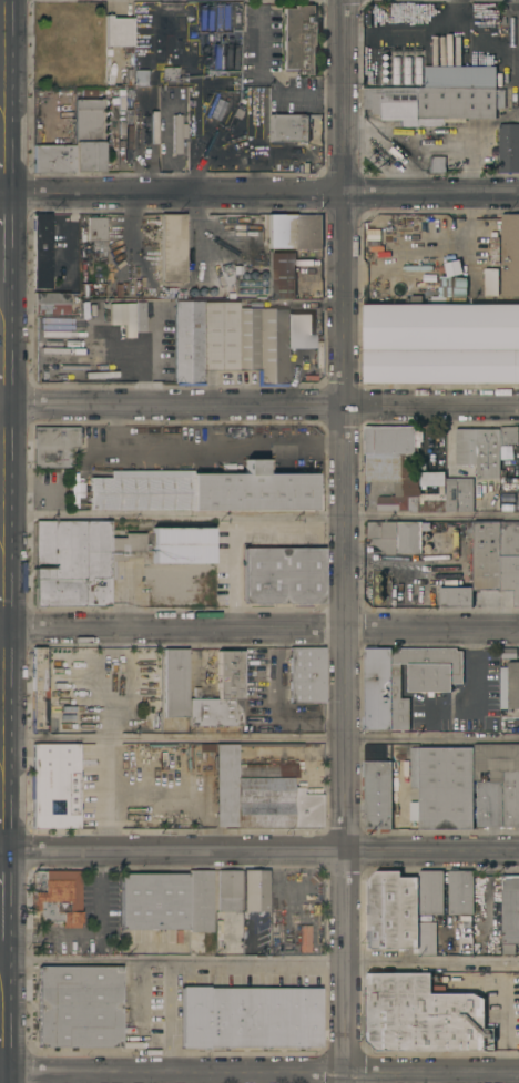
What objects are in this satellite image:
building: (118, 31)
building: (298, 38)
building: (63, 42)
road: (1, 52)
building: (396, 70)
building: (407, 70)
building: (419, 70)
building: (169, 74)
building: (459, 76)
road: (267, 79)
building: (139, 80)
building: (500, 99)
building: (430, 104)
building: (287, 129)
building: (177, 134)
building: (86, 136)
building: (508, 147)
road: (1, 150)
building: (52, 159)
building: (437, 164)
road: (0, 194)
road: (259, 194)
building: (420, 223)
building: (295, 231)
building: (95, 234)
road: (472, 242)
building: (172, 248)
building: (493, 251)
road: (1, 254)
building: (42, 255)
building: (510, 255)
building: (64, 260)
road: (383, 272)
building: (281, 276)
building: (491, 282)
building: (449, 286)
building: (53, 304)
building: (299, 330)
building: (204, 339)
building: (441, 343)
building: (262, 344)
road: (1, 359)
building: (50, 367)
road: (259, 406)
road: (0, 433)
building: (508, 435)
road: (207, 445)
building: (52, 446)
building: (479, 450)
building: (393, 462)
building: (431, 478)
building: (203, 490)
building: (459, 494)
building: (431, 502)
road: (259, 517)
building: (396, 535)
road: (345, 541)
building: (180, 545)
building: (486, 555)
building: (510, 558)
building: (80, 562)
building: (283, 575)
building: (455, 595)
road: (258, 629)
building: (508, 653)
building: (305, 675)
building: (175, 683)
building: (513, 685)
building: (429, 686)
building: (39, 692)
building: (220, 695)
building: (80, 699)
building: (307, 711)
road: (259, 738)
building: (268, 745)
road: (101, 766)
building: (414, 767)
building: (488, 784)
building: (510, 785)
building: (54, 786)
building: (445, 787)
building: (377, 788)
building: (259, 795)
road: (173, 796)
building: (414, 810)
road: (101, 823)
road: (258, 851)
building: (50, 885)
building: (255, 891)
building: (460, 891)
building: (430, 892)
building: (228, 896)
building: (153, 901)
building: (199, 902)
building: (510, 909)
building: (390, 910)
building: (49, 911)
road: (259, 961)
building: (79, 1007)
road: (139, 1015)
building: (421, 1015)
road: (167, 1016)
building: (248, 1016)
road: (258, 1072)

